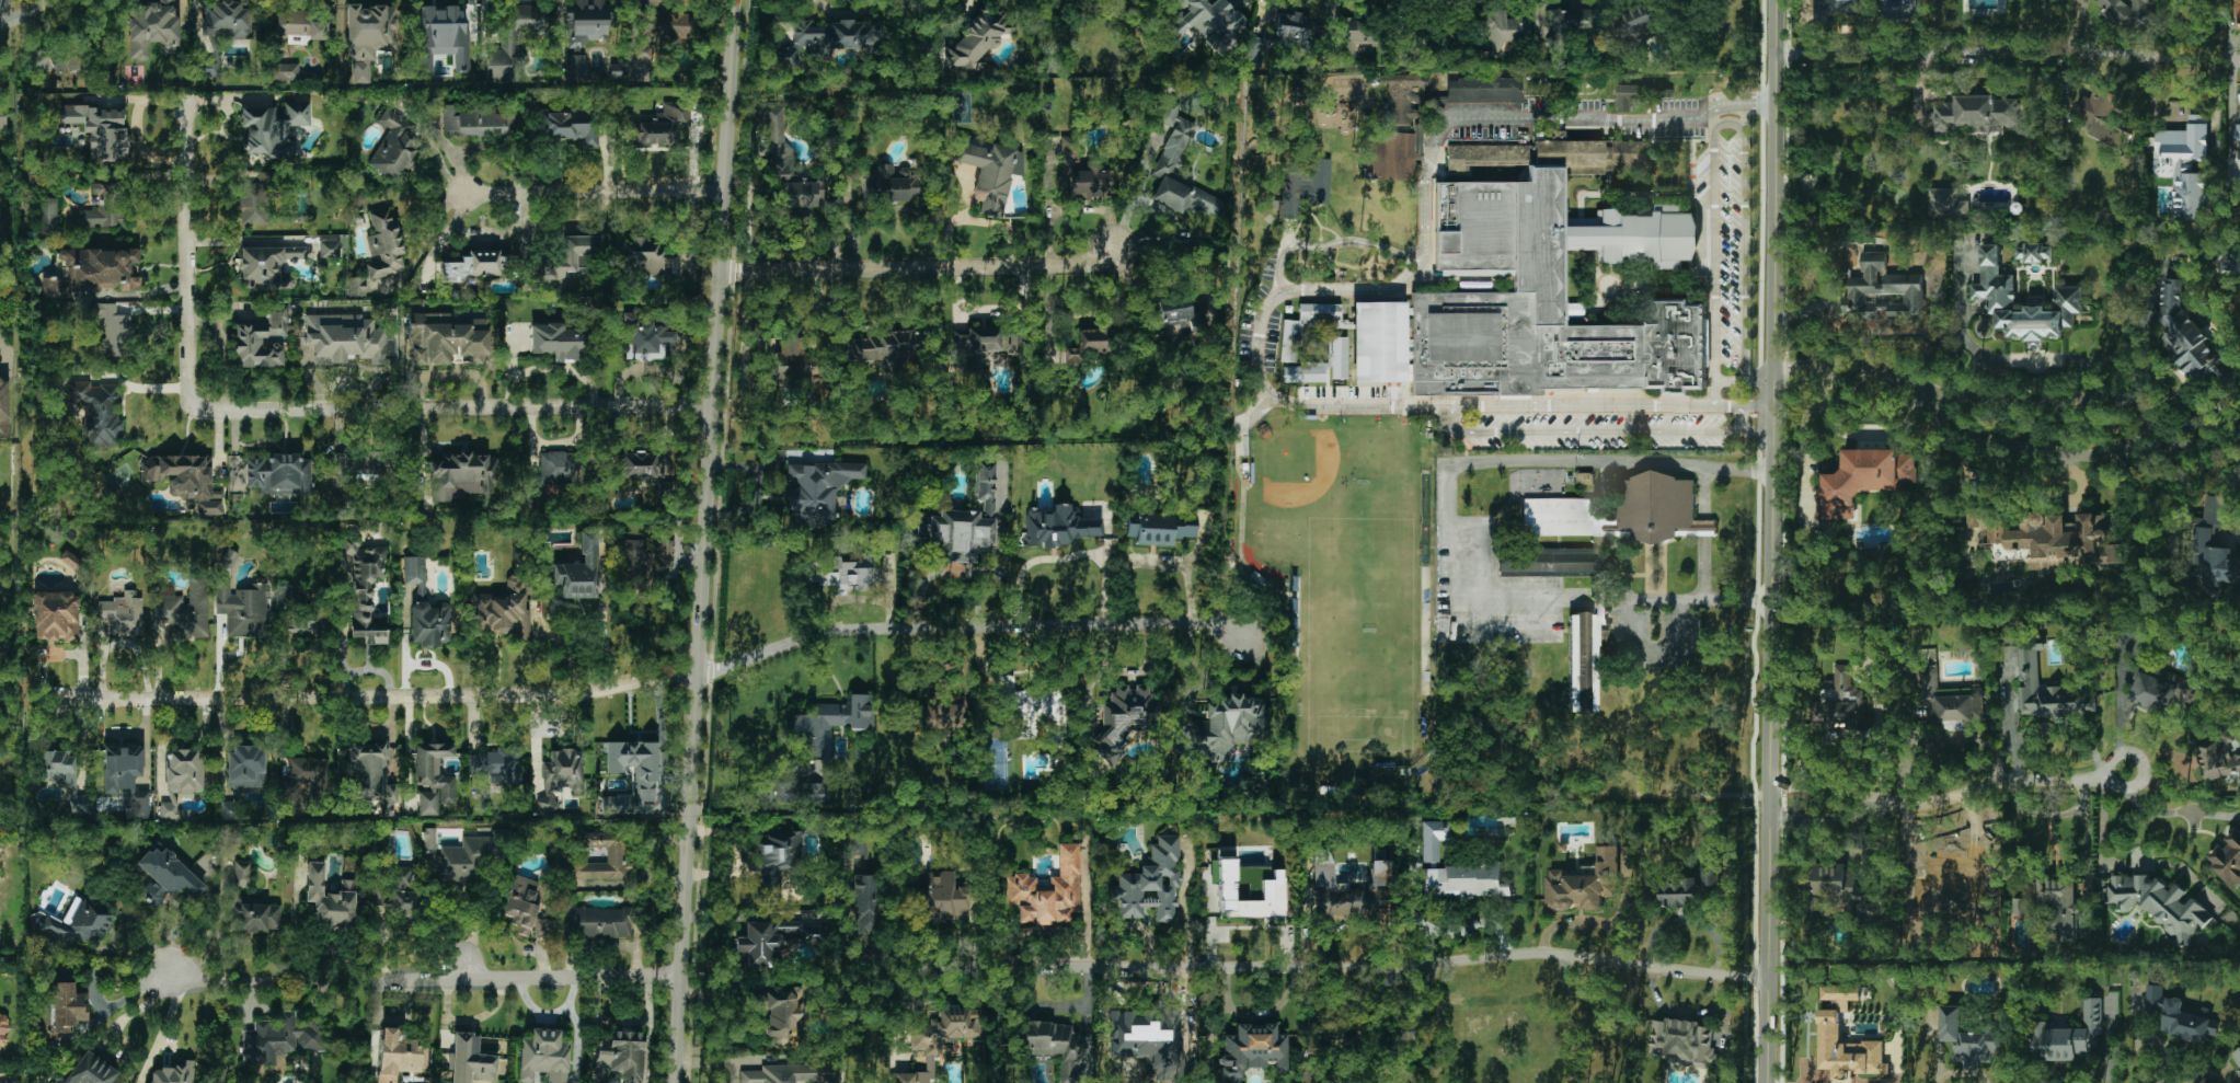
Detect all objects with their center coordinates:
building: (1696, 0)
building: (2238, 5)
building: (1834, 8)
building: (2126, 12)
road: (24, 14)
building: (227, 19)
building: (1208, 21)
building: (1572, 21)
building: (587, 22)
building: (1640, 23)
building: (300, 26)
building: (1507, 27)
building: (151, 30)
building: (665, 32)
building: (445, 34)
building: (1278, 35)
building: (1357, 35)
building: (368, 36)
building: (977, 39)
building: (827, 41)
building: (514, 43)
road: (2009, 51)
building: (65, 61)
building: (577, 67)
building: (207, 68)
building: (284, 71)
building: (1483, 90)
road: (2231, 91)
building: (1630, 95)
building: (1401, 100)
building: (1168, 113)
building: (1976, 113)
road: (1623, 115)
building: (2102, 117)
road: (1744, 118)
building: (478, 122)
road: (1726, 122)
road: (1712, 124)
building: (570, 125)
building: (662, 126)
building: (274, 129)
building: (101, 131)
building: (1556, 135)
building: (2239, 137)
building: (394, 145)
building: (1173, 149)
building: (1388, 154)
building: (785, 162)
building: (2186, 166)
building: (990, 172)
building: (1082, 174)
road: (1425, 174)
building: (889, 184)
building: (1305, 189)
road: (594, 192)
building: (254, 201)
building: (1948, 203)
building: (104, 207)
building: (47, 216)
building: (1, 223)
building: (383, 244)
road: (1330, 244)
building: (329, 249)
building: (2034, 252)
building: (650, 258)
building: (566, 261)
building: (268, 265)
building: (473, 266)
road: (918, 268)
building: (93, 270)
building: (356, 286)
building: (1533, 288)
road: (1359, 289)
building: (1884, 291)
building: (1992, 291)
building: (1169, 315)
building: (114, 331)
building: (2189, 337)
building: (343, 338)
building: (646, 338)
building: (448, 341)
building: (561, 341)
building: (988, 341)
building: (261, 342)
building: (1090, 344)
building: (882, 347)
building: (1339, 358)
road: (2032, 358)
road: (1843, 366)
building: (974, 370)
building: (1306, 372)
road: (1742, 378)
road: (1300, 406)
road: (1750, 407)
building: (3, 410)
road: (302, 410)
building: (97, 413)
road: (1859, 429)
road: (1462, 433)
road: (2147, 433)
road: (1751, 434)
road: (1803, 452)
building: (639, 465)
building: (558, 469)
road: (1738, 469)
building: (364, 470)
building: (278, 474)
building: (461, 476)
building: (1584, 477)
building: (1863, 479)
building: (184, 480)
road: (2143, 485)
building: (817, 489)
building: (1622, 511)
road: (1445, 515)
building: (963, 523)
building: (1058, 526)
building: (1160, 528)
road: (702, 541)
road: (1770, 541)
building: (2058, 541)
building: (2215, 546)
road: (1105, 553)
building: (229, 560)
building: (645, 560)
building: (71, 561)
building: (1554, 562)
road: (954, 568)
building: (578, 572)
building: (415, 573)
building: (847, 574)
road: (1481, 581)
building: (364, 589)
road: (859, 597)
building: (184, 609)
building: (243, 610)
building: (503, 611)
road: (602, 612)
building: (122, 614)
building: (56, 615)
building: (306, 619)
building: (430, 623)
road: (1682, 643)
building: (1585, 653)
road: (652, 678)
building: (2159, 683)
building: (2047, 690)
building: (1840, 699)
building: (1944, 700)
building: (929, 716)
building: (1125, 719)
road: (2069, 723)
road: (2013, 724)
building: (830, 725)
building: (1226, 727)
building: (2218, 759)
building: (636, 764)
road: (2183, 764)
building: (246, 767)
building: (497, 767)
building: (307, 774)
building: (371, 774)
building: (62, 776)
building: (126, 776)
building: (433, 777)
building: (561, 777)
building: (182, 781)
road: (1996, 783)
road: (2111, 784)
road: (1829, 786)
building: (799, 792)
road: (2172, 813)
road: (2049, 816)
road: (1829, 817)
building: (429, 839)
building: (1433, 839)
building: (857, 844)
building: (617, 853)
road: (738, 853)
building: (470, 856)
building: (778, 857)
building: (2229, 859)
road: (2101, 860)
road: (2087, 866)
building: (242, 873)
building: (1713, 876)
building: (165, 877)
building: (401, 877)
building: (1464, 880)
building: (1587, 882)
building: (1151, 883)
building: (1938, 884)
building: (1347, 888)
building: (1272, 890)
building: (1678, 890)
building: (1047, 891)
building: (940, 898)
building: (330, 899)
building: (1869, 899)
building: (378, 902)
road: (1087, 902)
building: (522, 903)
building: (864, 903)
building: (2160, 903)
building: (2020, 905)
building: (2060, 911)
road: (483, 912)
building: (255, 917)
road: (1688, 919)
building: (599, 922)
building: (80, 923)
building: (542, 928)
building: (771, 941)
road: (1333, 967)
road: (466, 971)
road: (424, 980)
building: (61, 1009)
road: (1684, 1012)
building: (2178, 1014)
building: (778, 1015)
building: (1829, 1026)
road: (163, 1028)
building: (3, 1032)
building: (2069, 1035)
building: (1967, 1037)
building: (939, 1038)
building: (280, 1039)
building: (1682, 1041)
building: (1049, 1044)
building: (1253, 1051)
building: (399, 1055)
building: (543, 1056)
building: (619, 1056)
building: (2237, 1056)
building: (471, 1060)
road: (715, 1061)
building: (90, 1071)
building: (174, 1073)
building: (793, 1073)
road: (2210, 1073)

